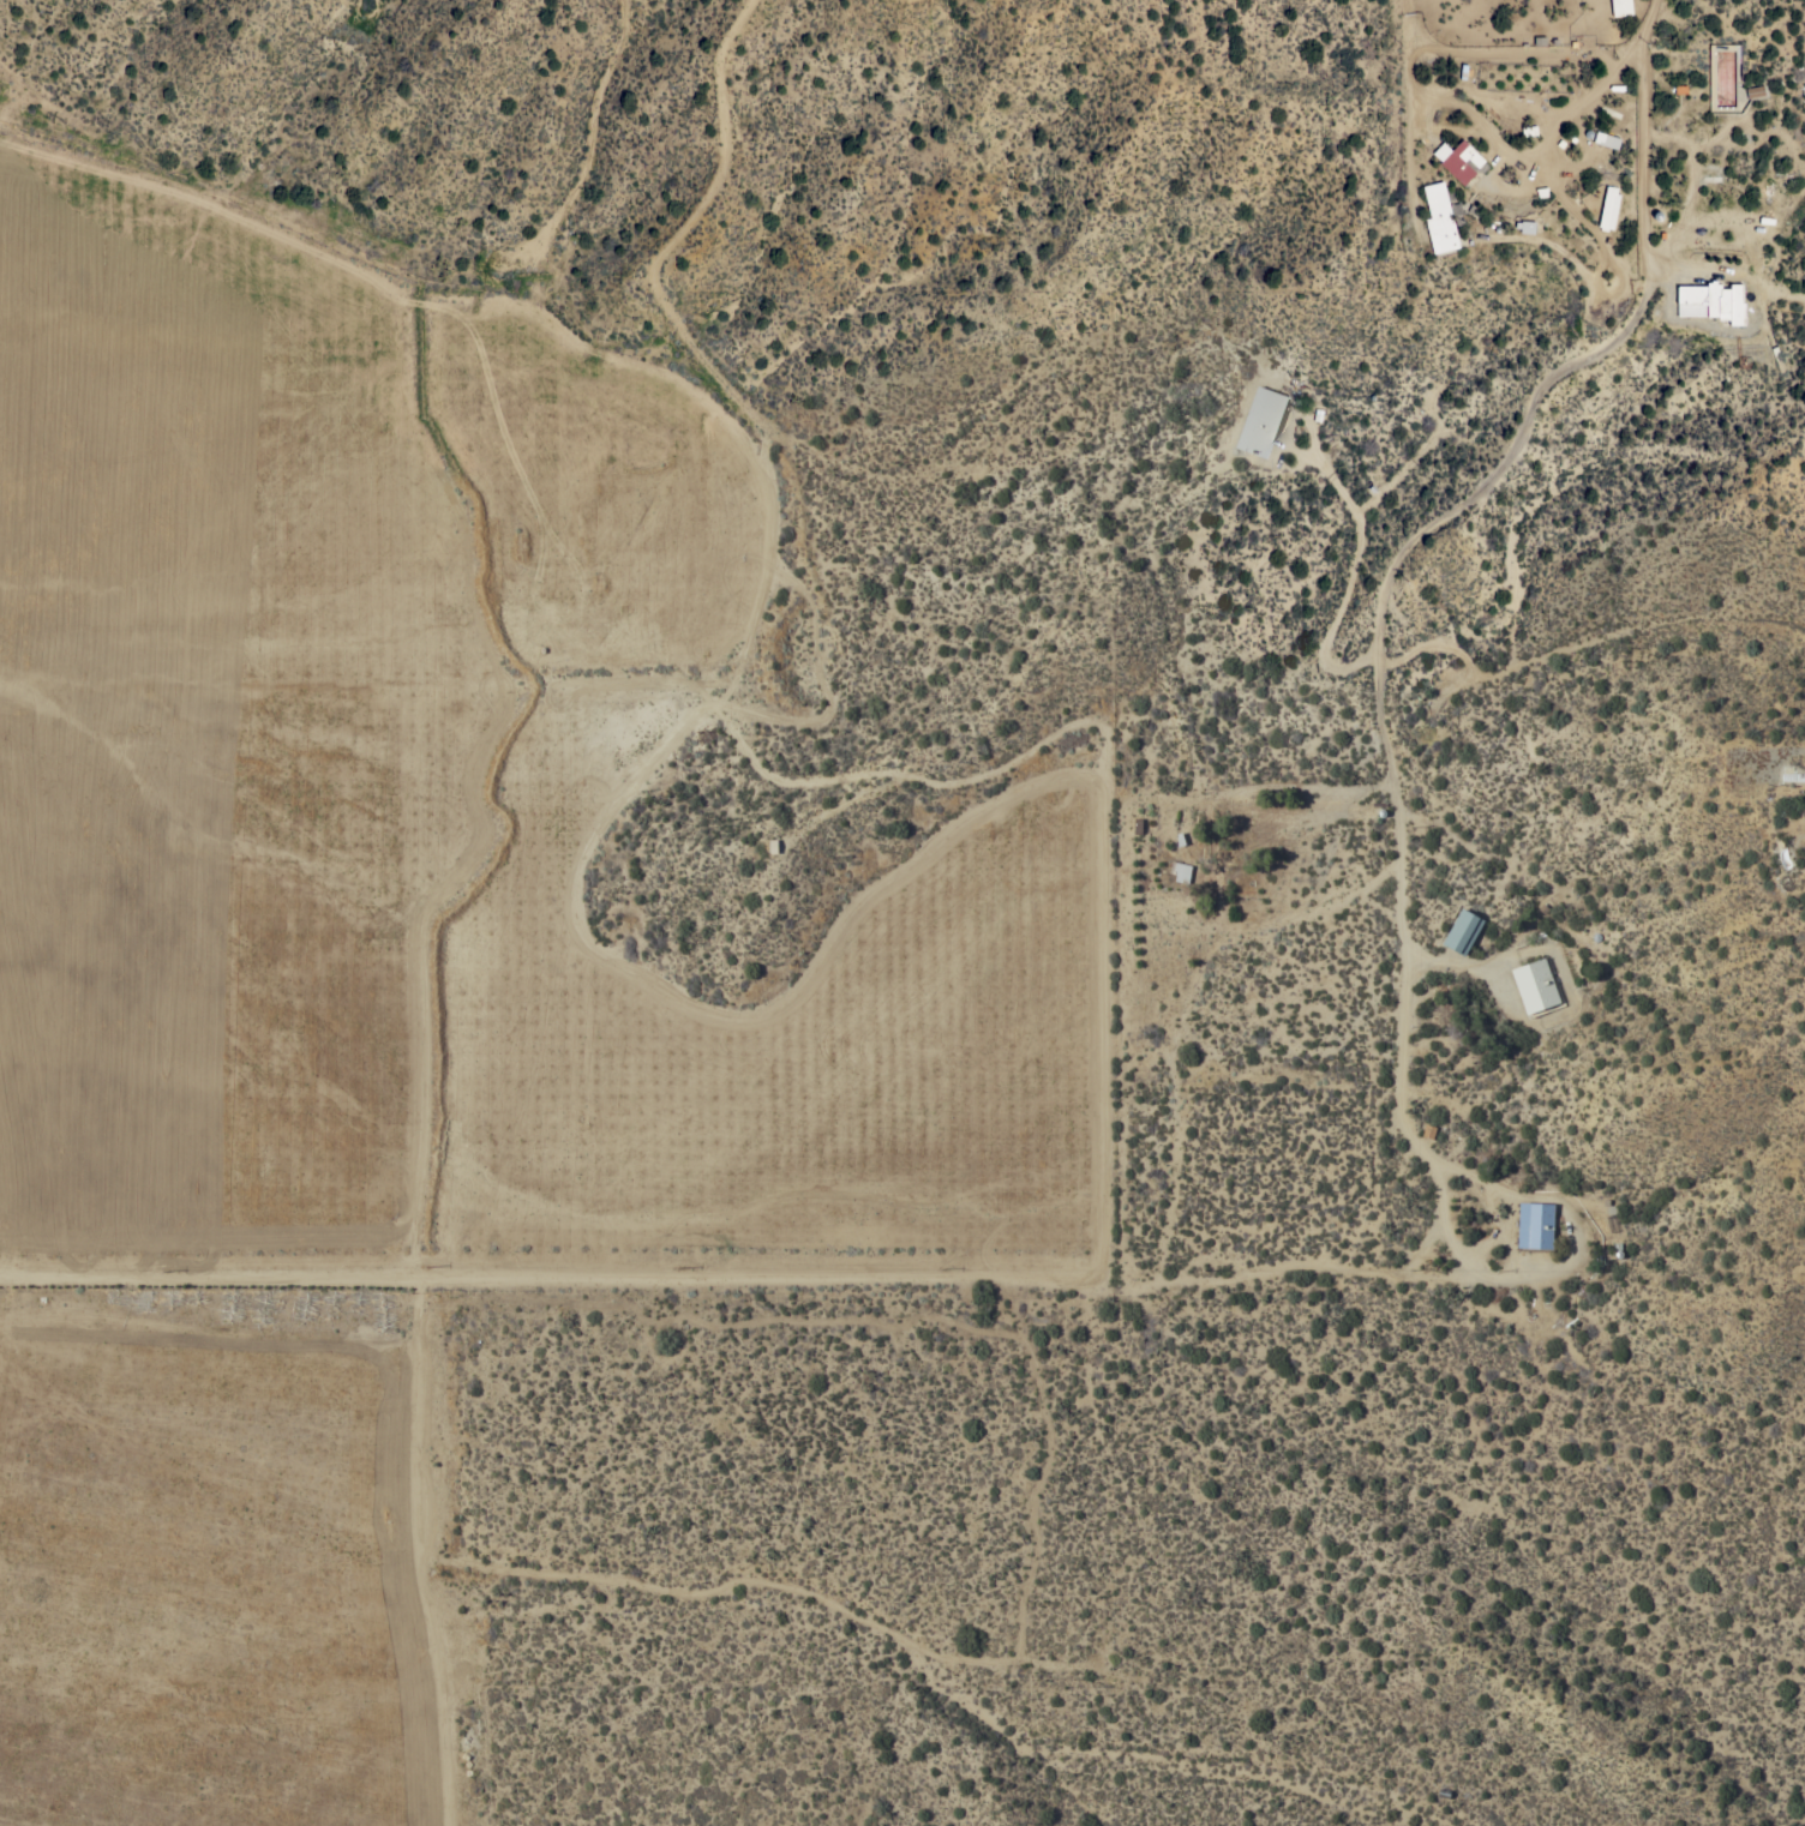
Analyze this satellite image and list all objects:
building: (1621, 7)
building: (1755, 90)
road: (1566, 115)
building: (1606, 140)
building: (1463, 163)
building: (1608, 209)
building: (1441, 216)
building: (1716, 300)
building: (1261, 420)
road: (1392, 569)
road: (1351, 572)
building: (1793, 776)
building: (1180, 841)
building: (1180, 871)
road: (954, 875)
road: (1279, 888)
building: (1463, 931)
crop: (394, 974)
building: (1535, 986)
building: (1536, 1226)
road: (930, 1736)

